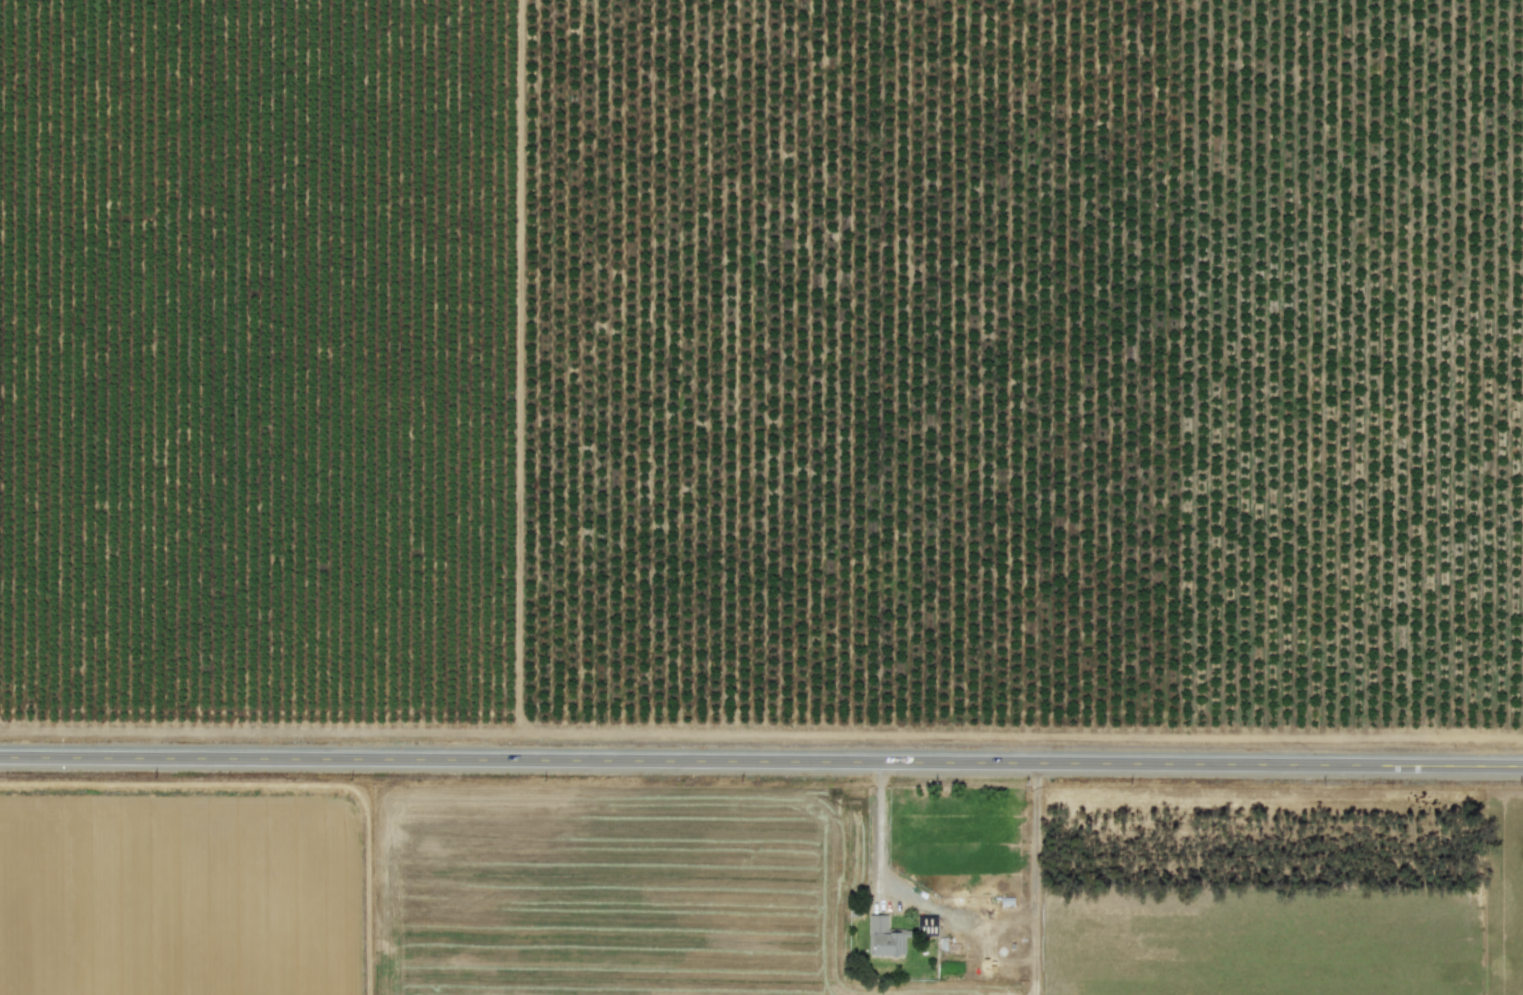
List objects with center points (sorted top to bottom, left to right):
road: (761, 761)
road: (879, 825)
building: (926, 924)
building: (884, 937)

